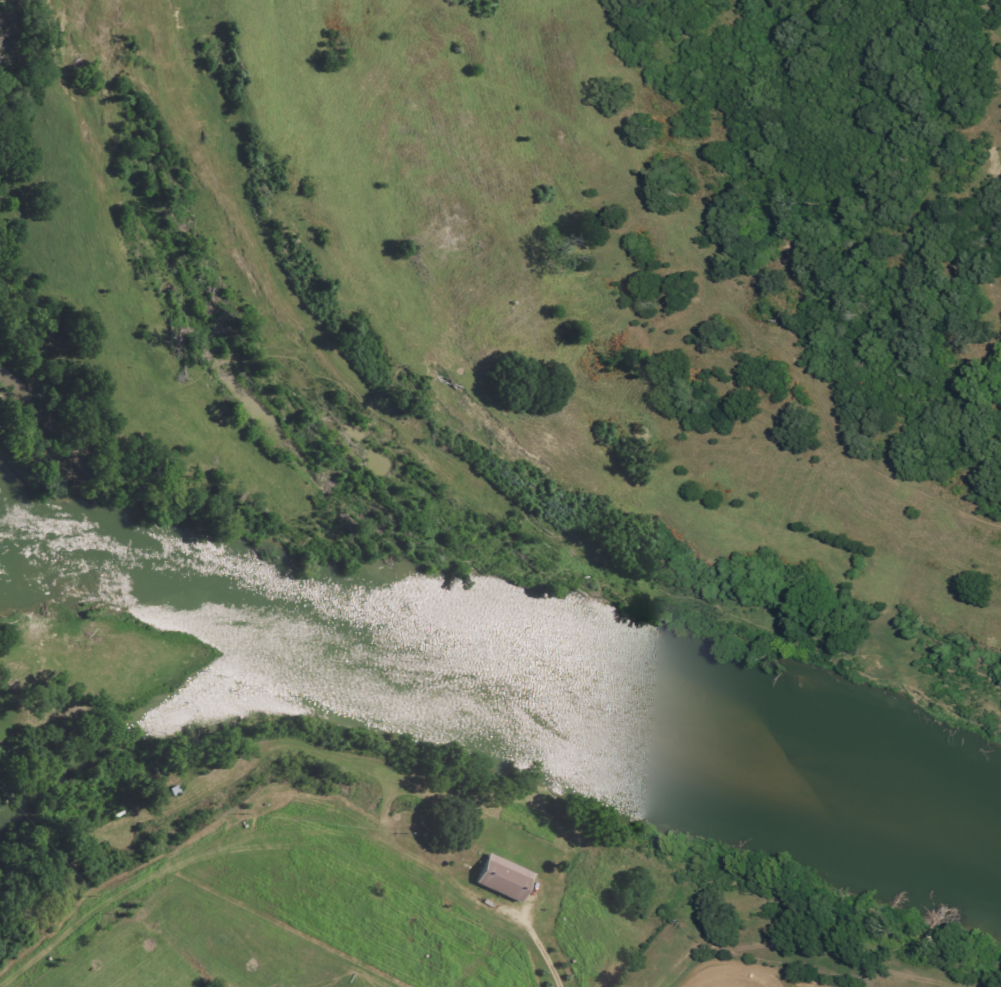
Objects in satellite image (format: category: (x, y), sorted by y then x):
river: (500, 682)
building: (565, 910)
road: (605, 944)

